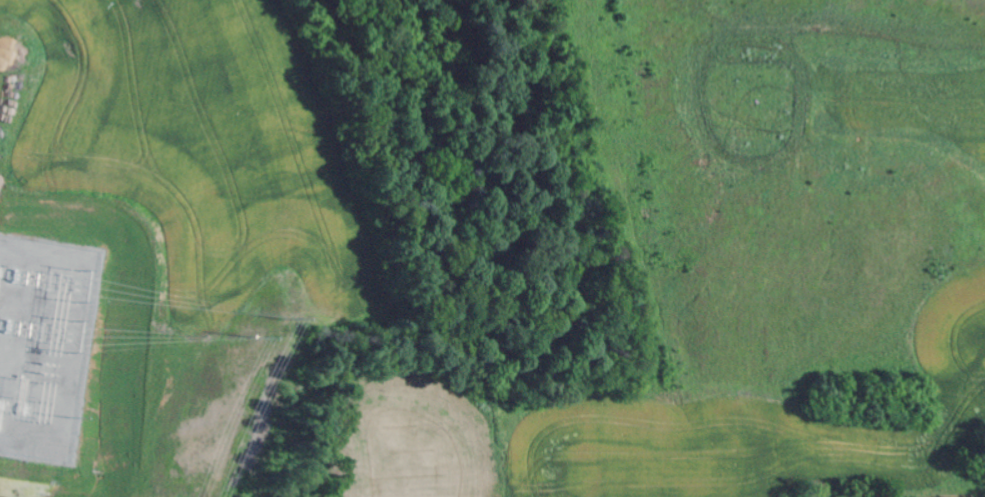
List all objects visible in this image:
power substation: (44, 343)

